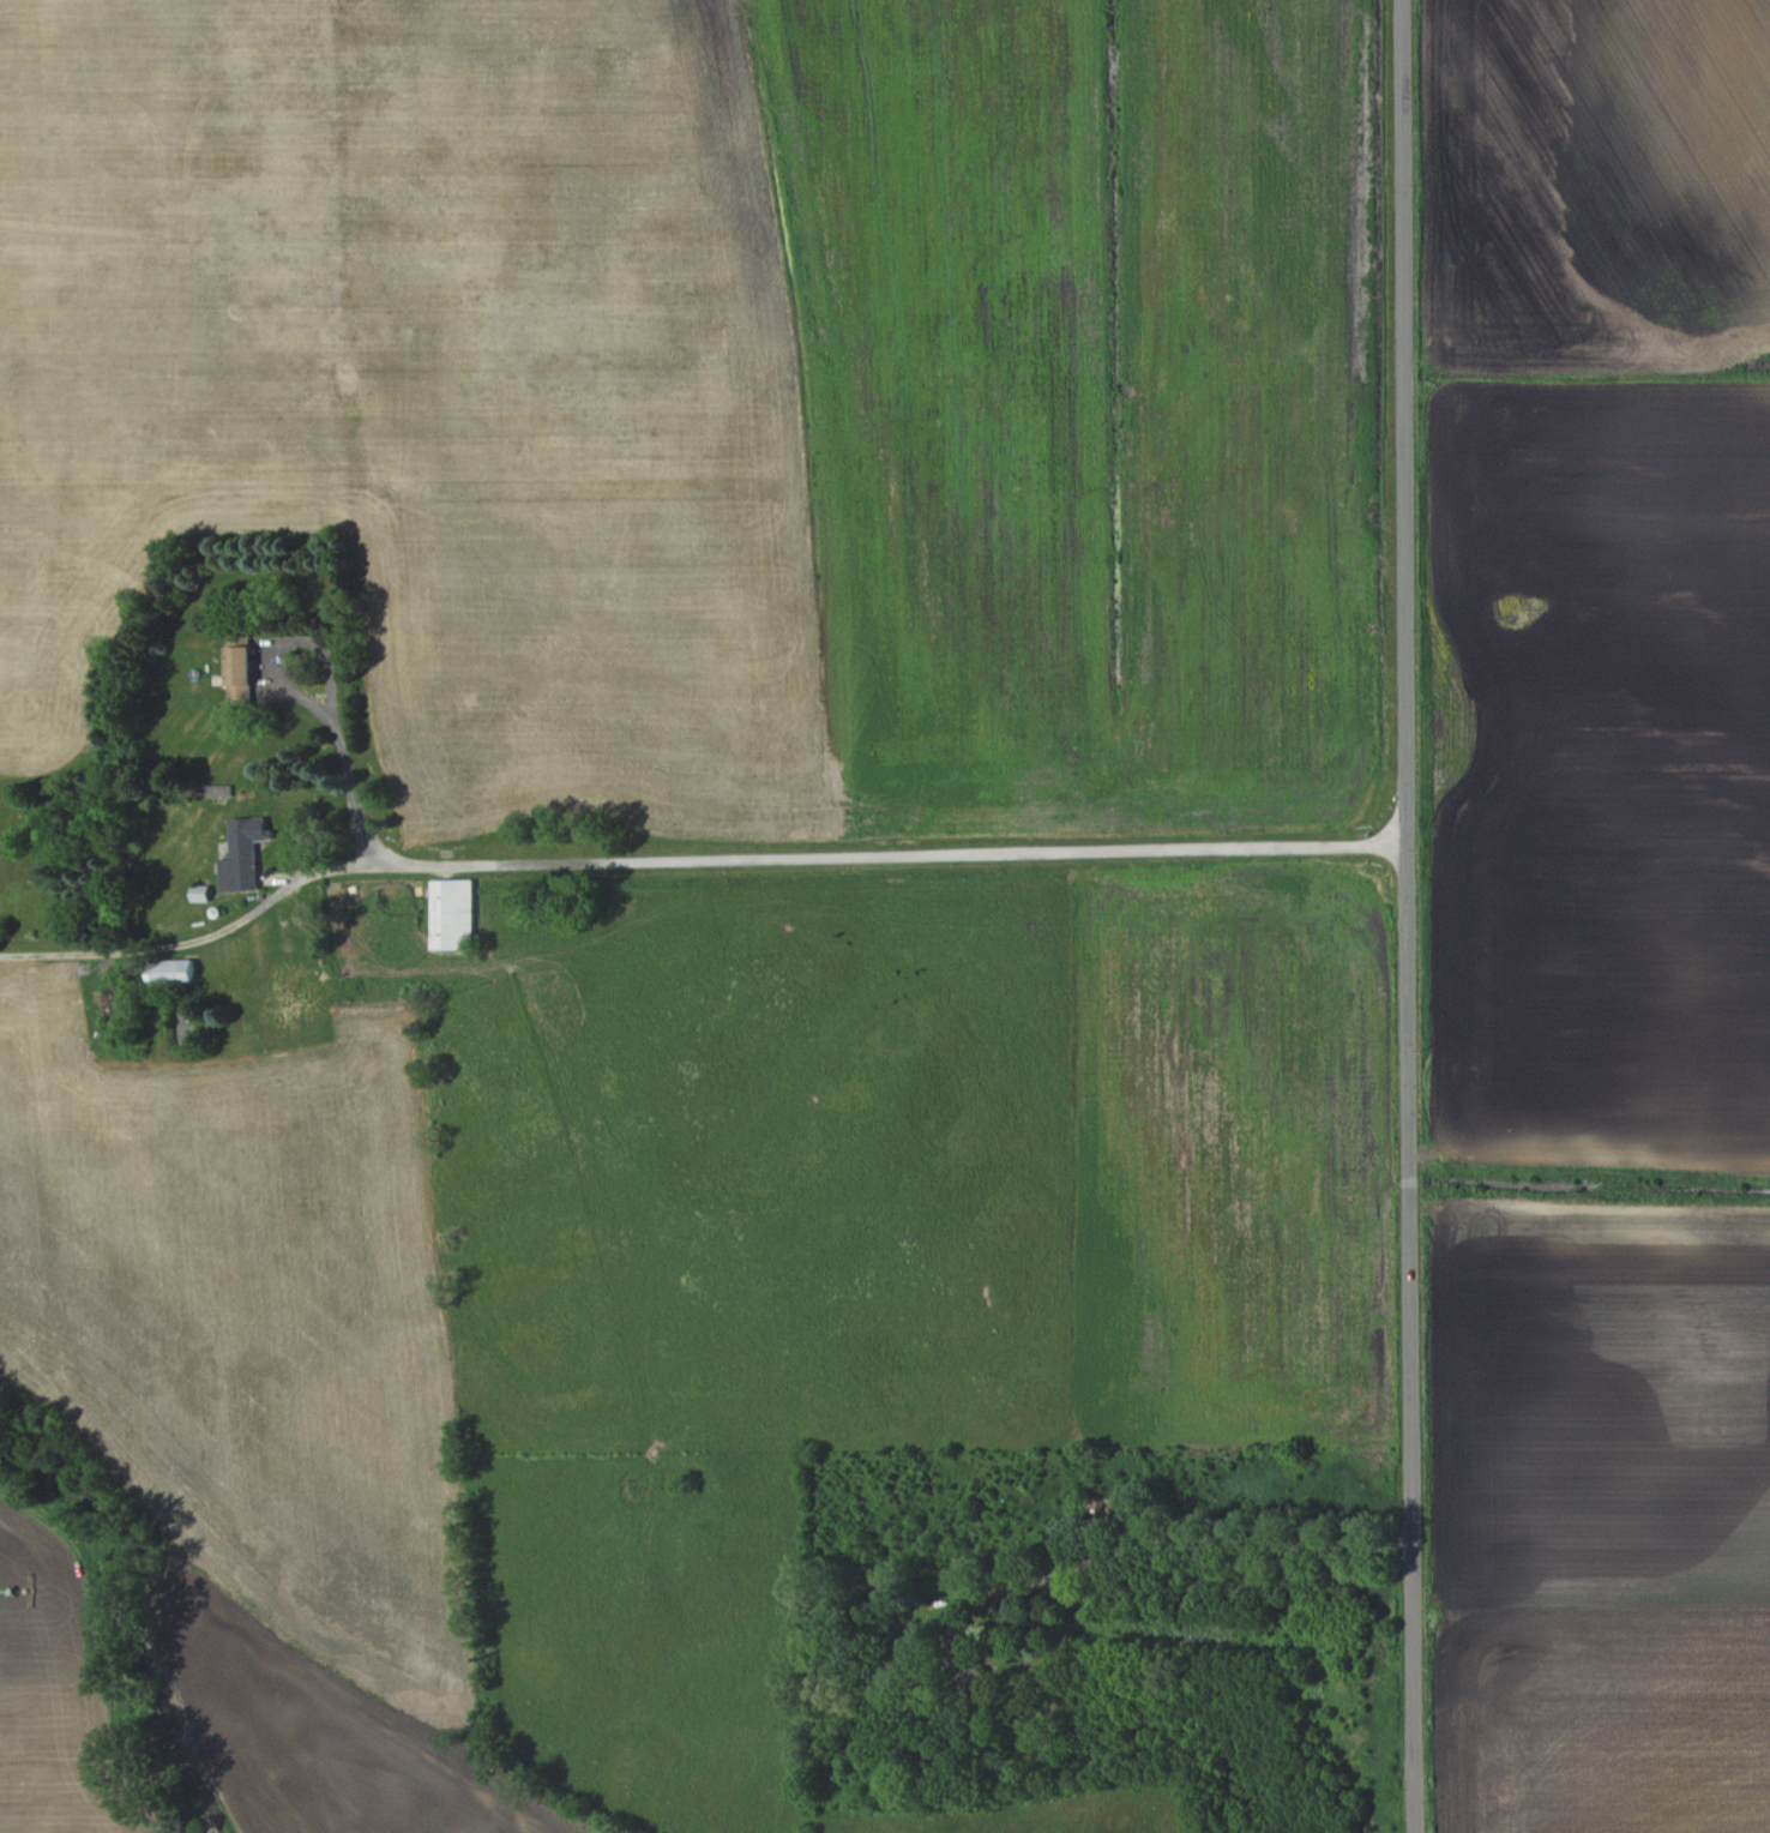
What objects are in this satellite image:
building: (240, 667)
building: (243, 853)
road: (714, 858)
building: (201, 891)
building: (452, 912)
road: (1411, 916)
road: (204, 936)
building: (174, 968)
road: (1186, 1540)

